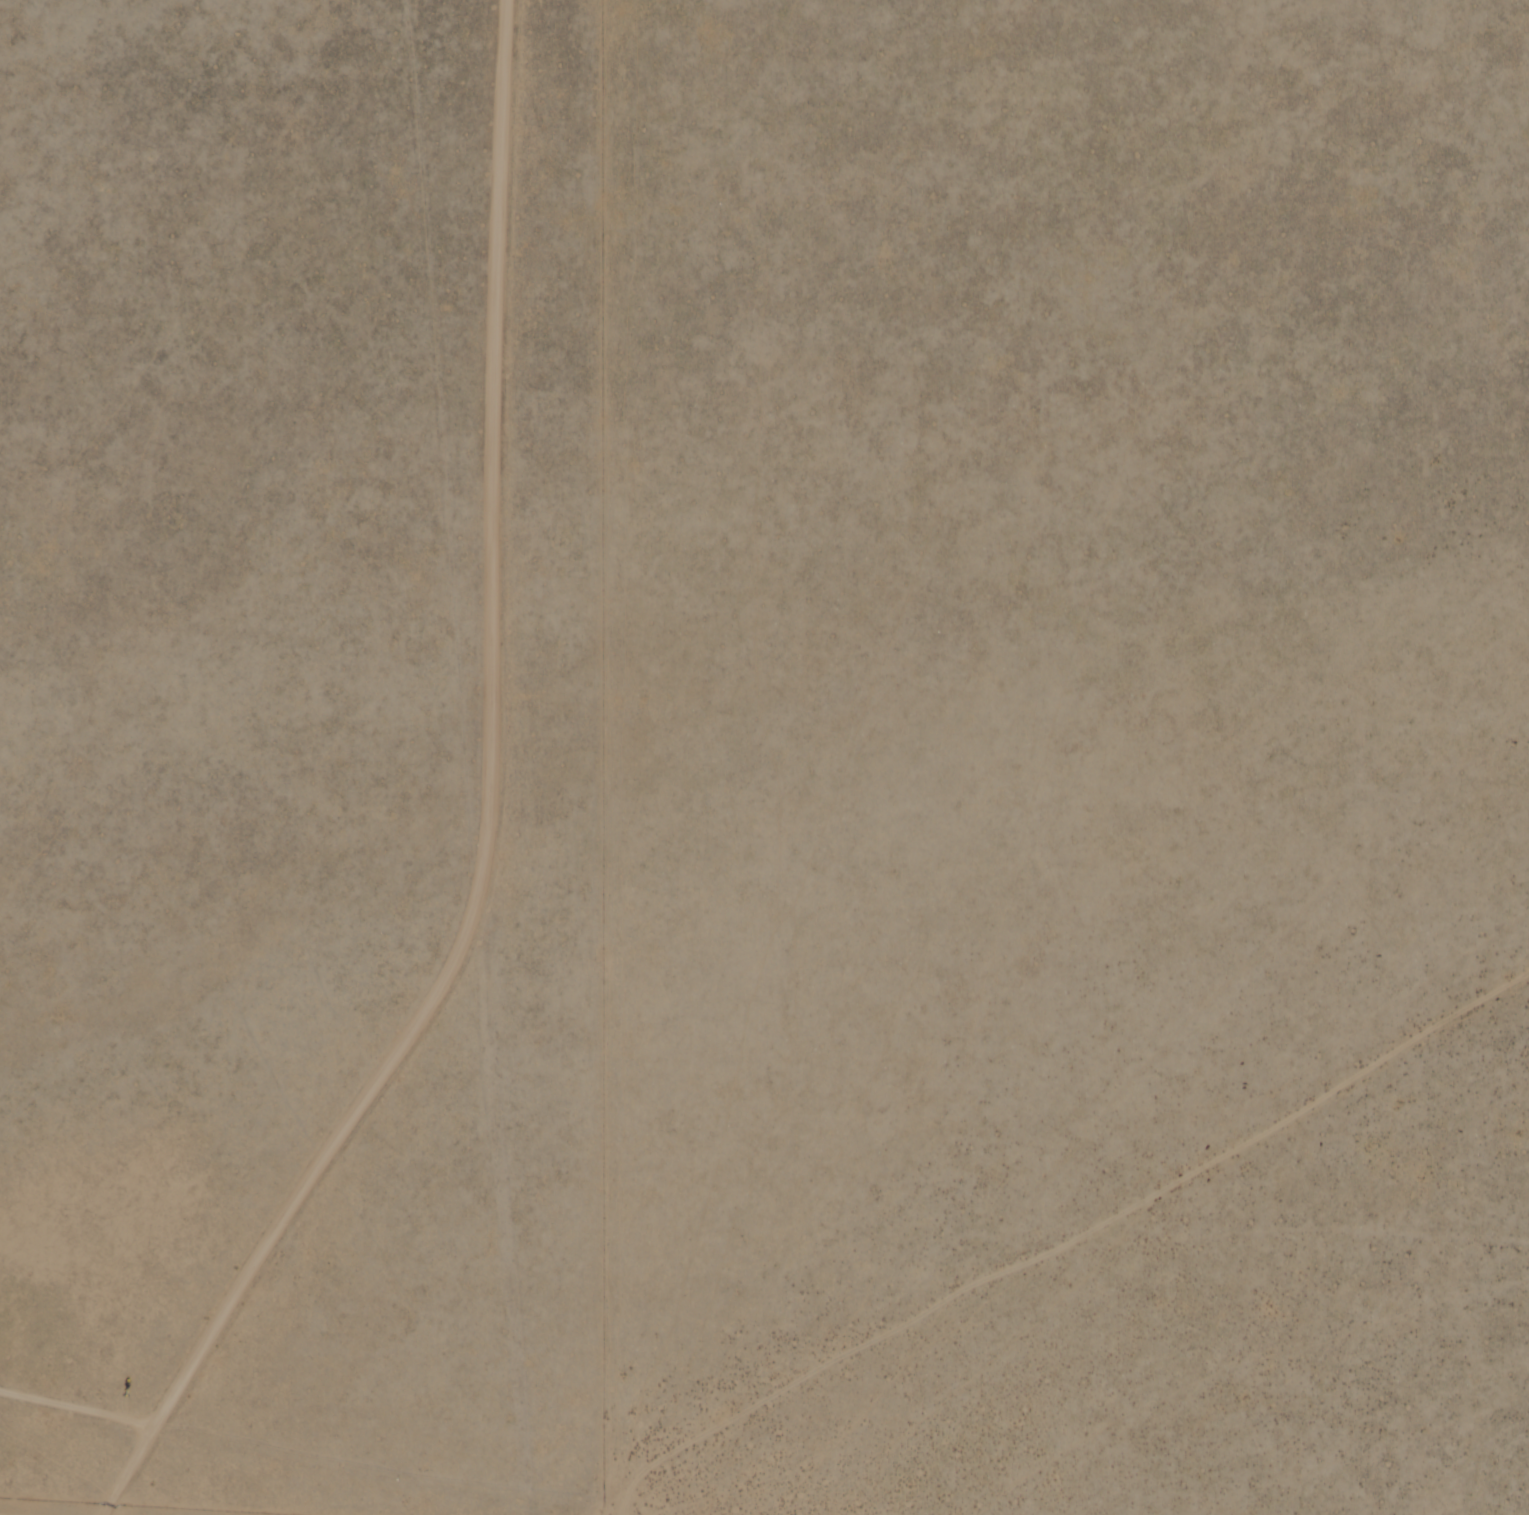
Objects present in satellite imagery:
road: (496, 811)
road: (1061, 1230)

